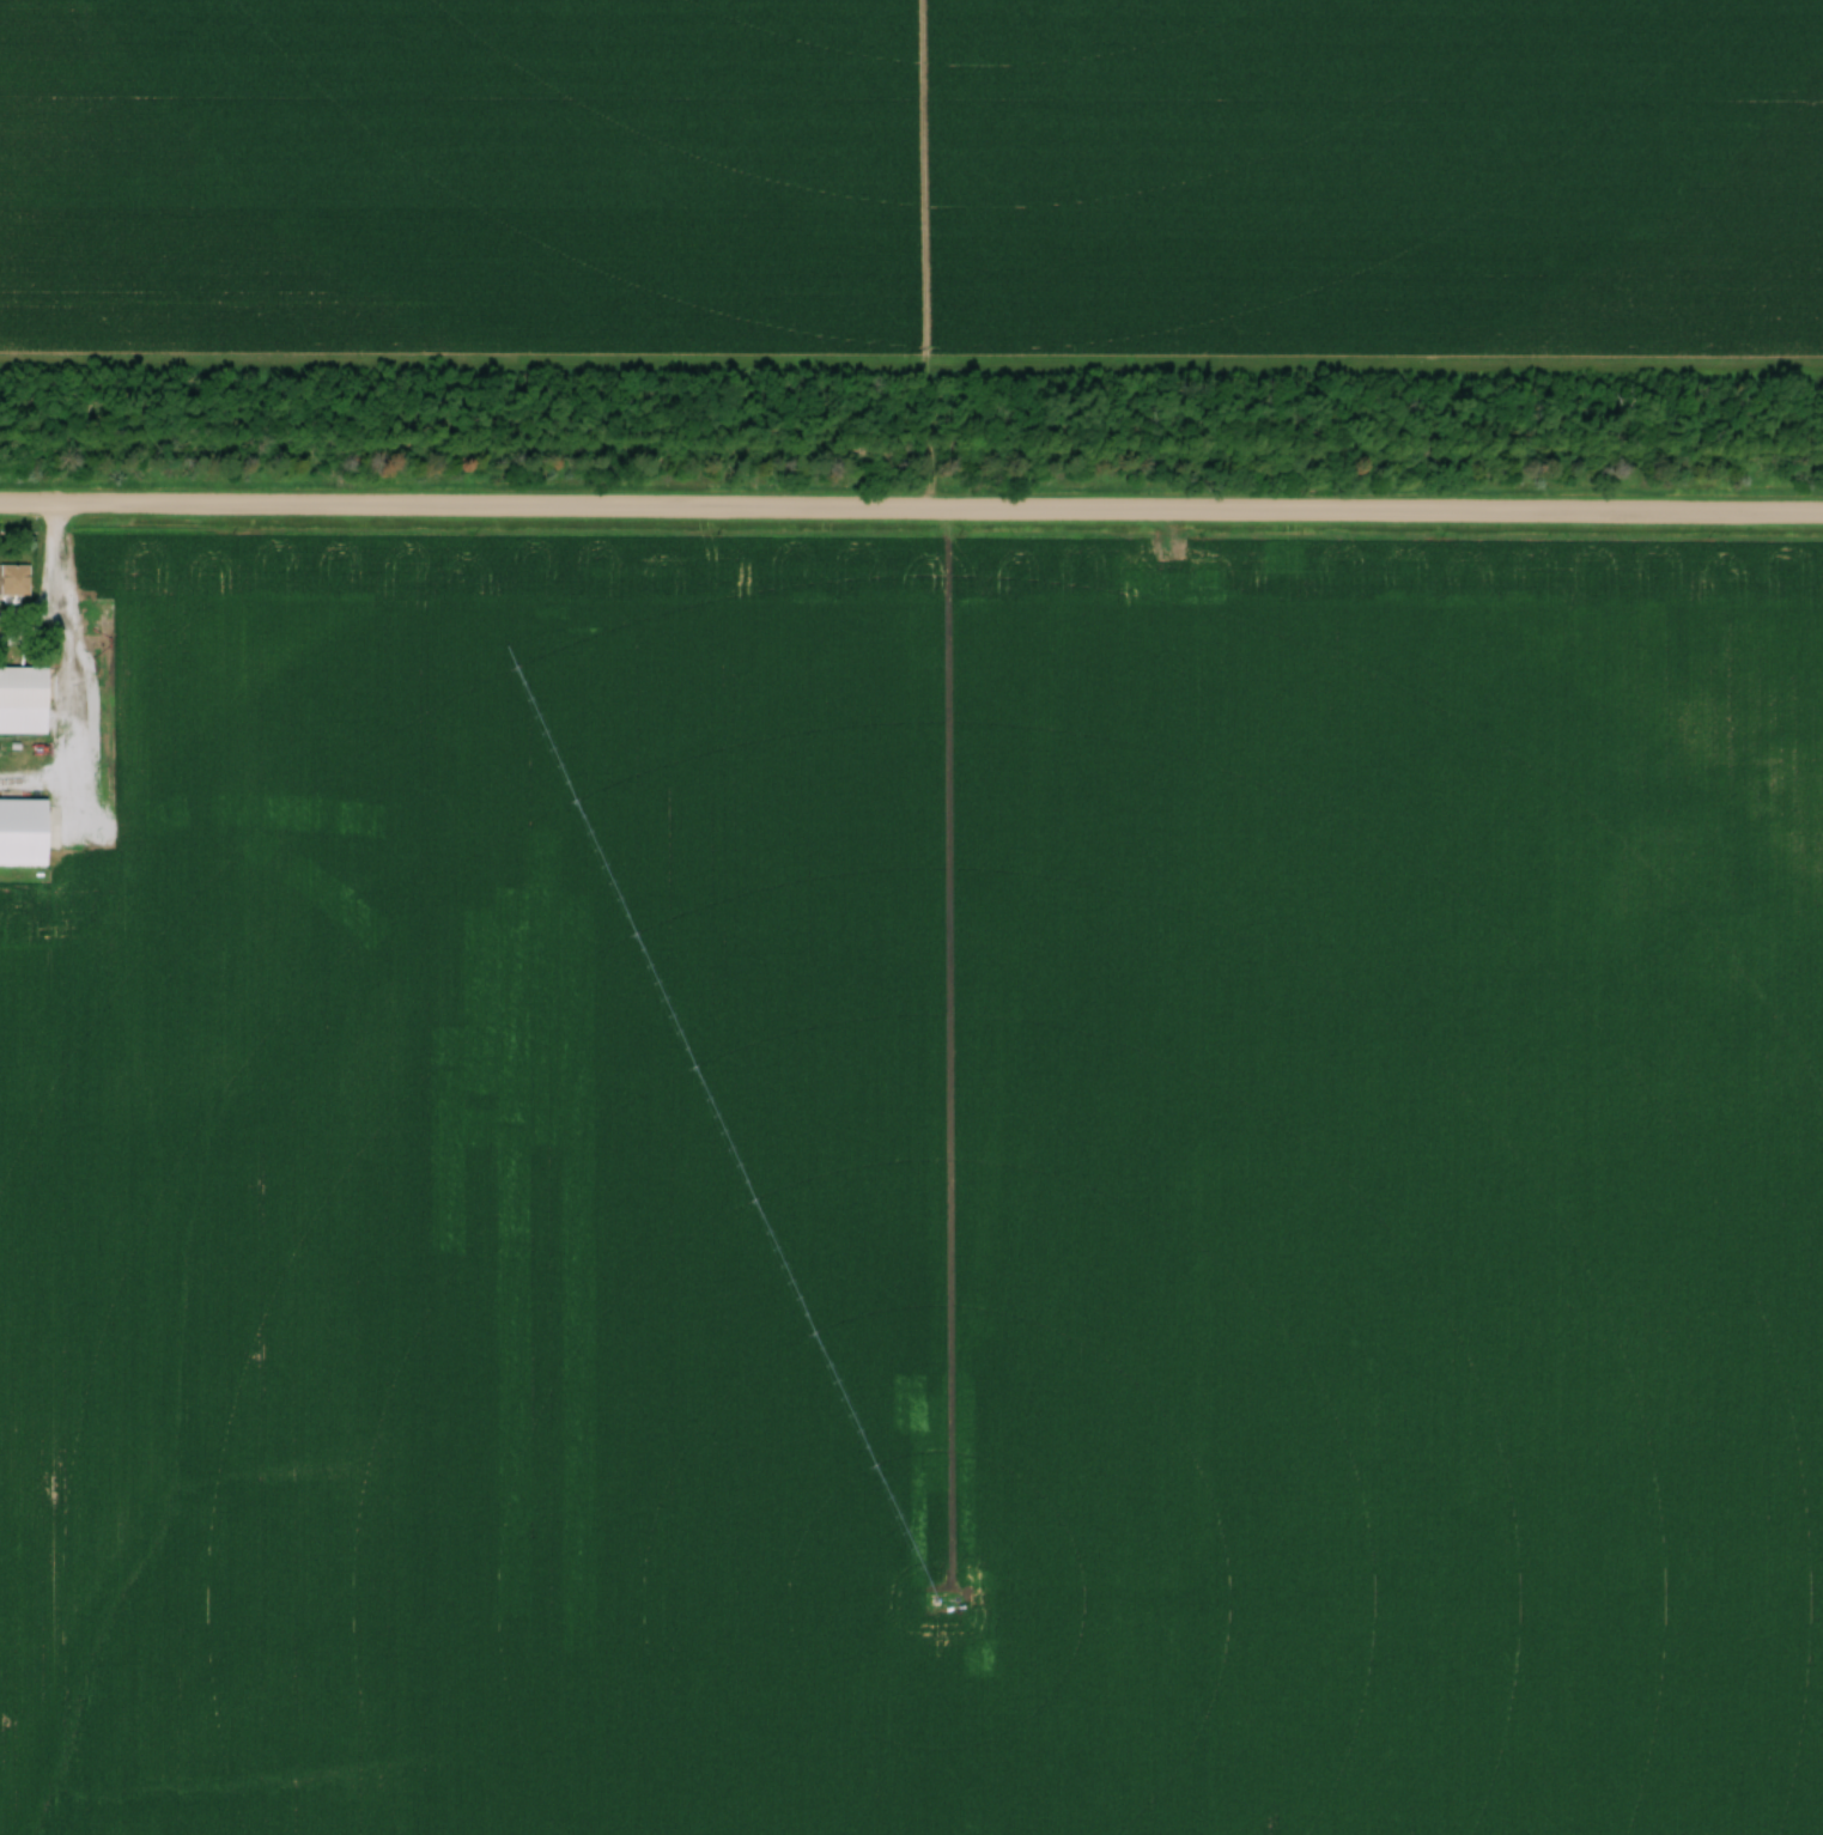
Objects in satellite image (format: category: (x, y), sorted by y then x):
road: (911, 516)
building: (12, 579)
building: (22, 700)

